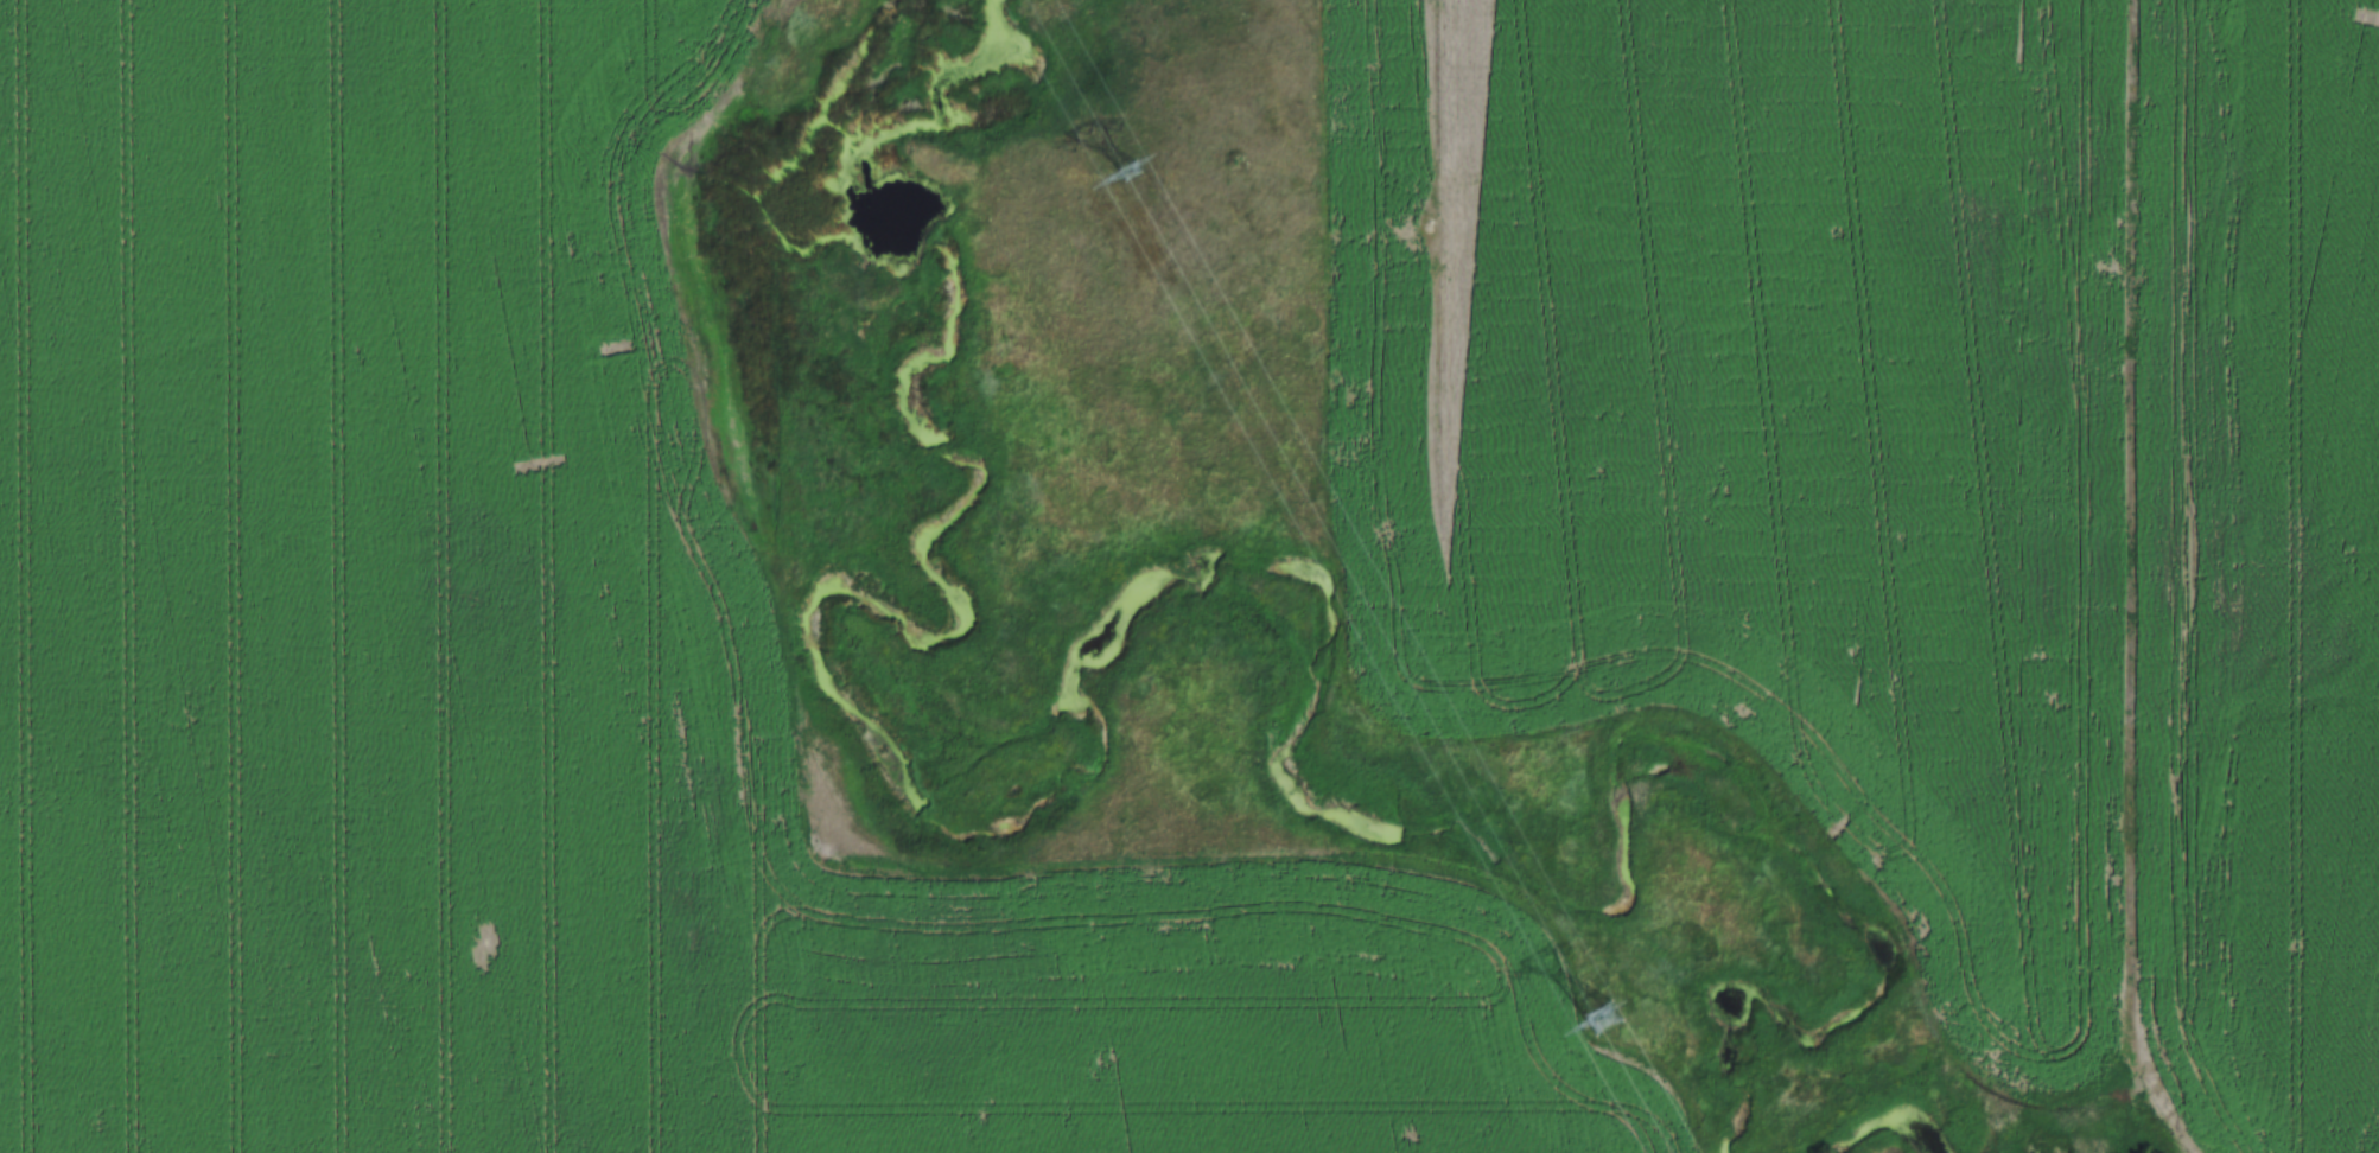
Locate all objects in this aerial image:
power tower: (1133, 181)
power tower: (1604, 1023)

